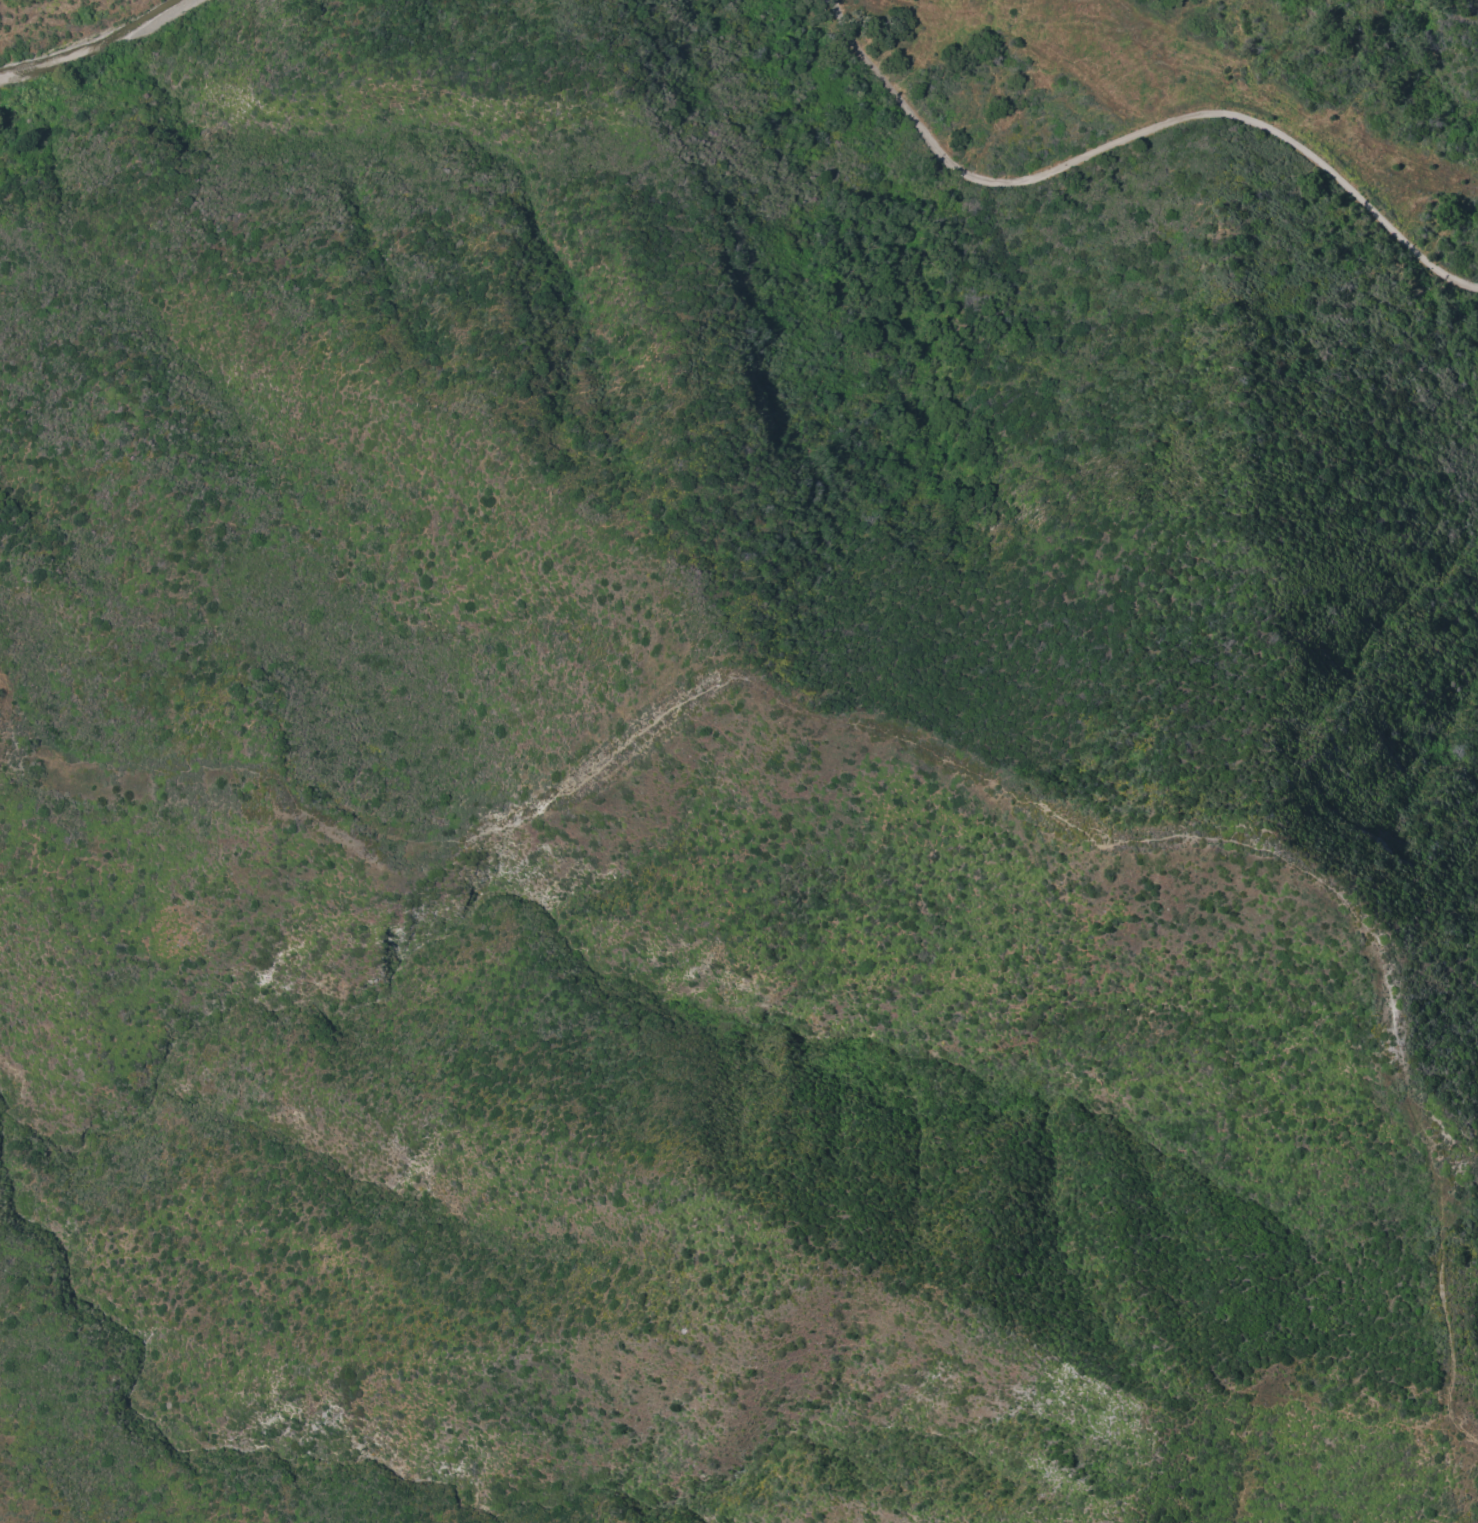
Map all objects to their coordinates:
road: (92, 43)
road: (1142, 129)

